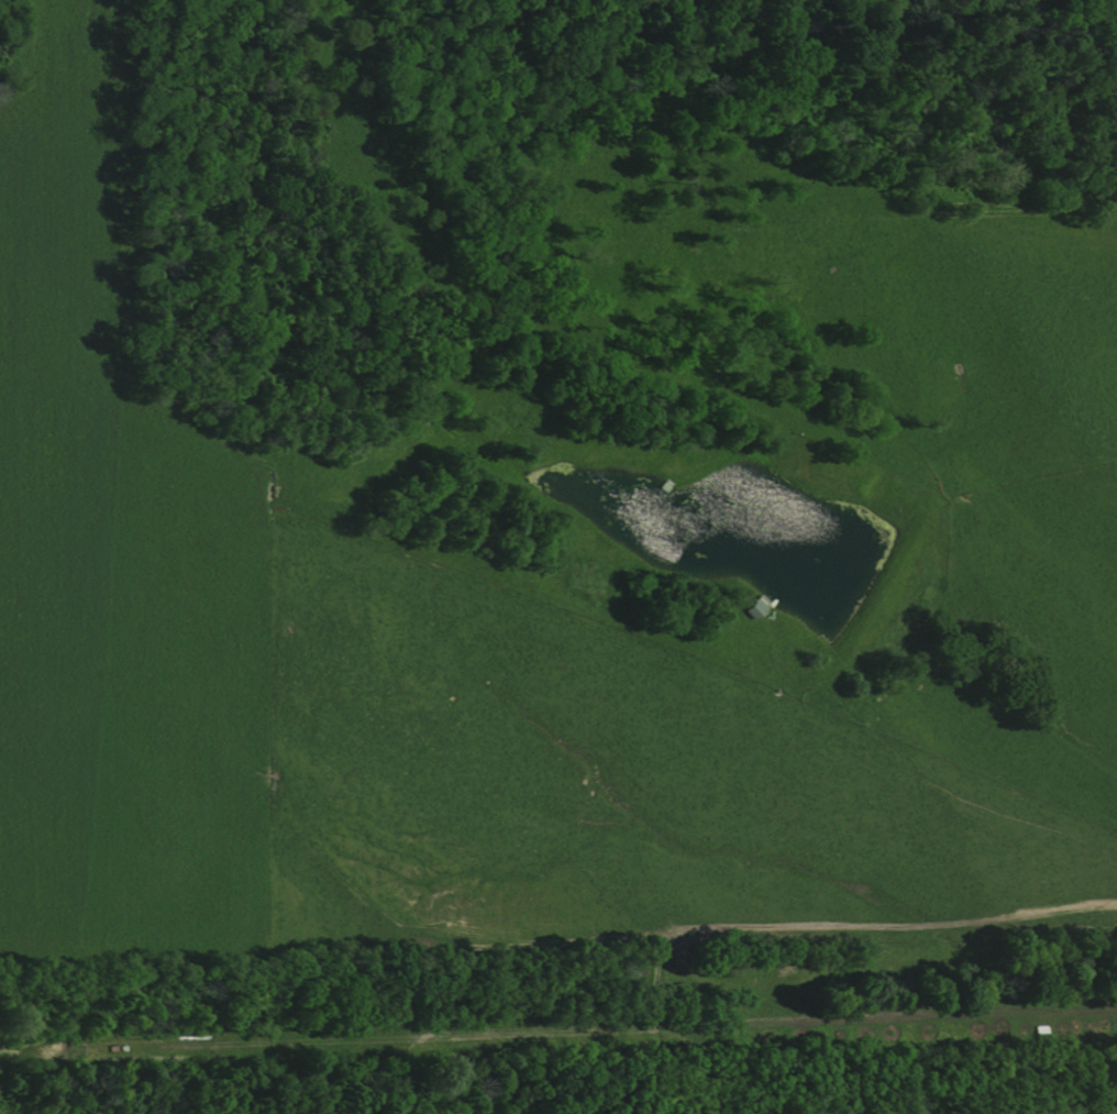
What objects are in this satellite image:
road: (623, 1106)

